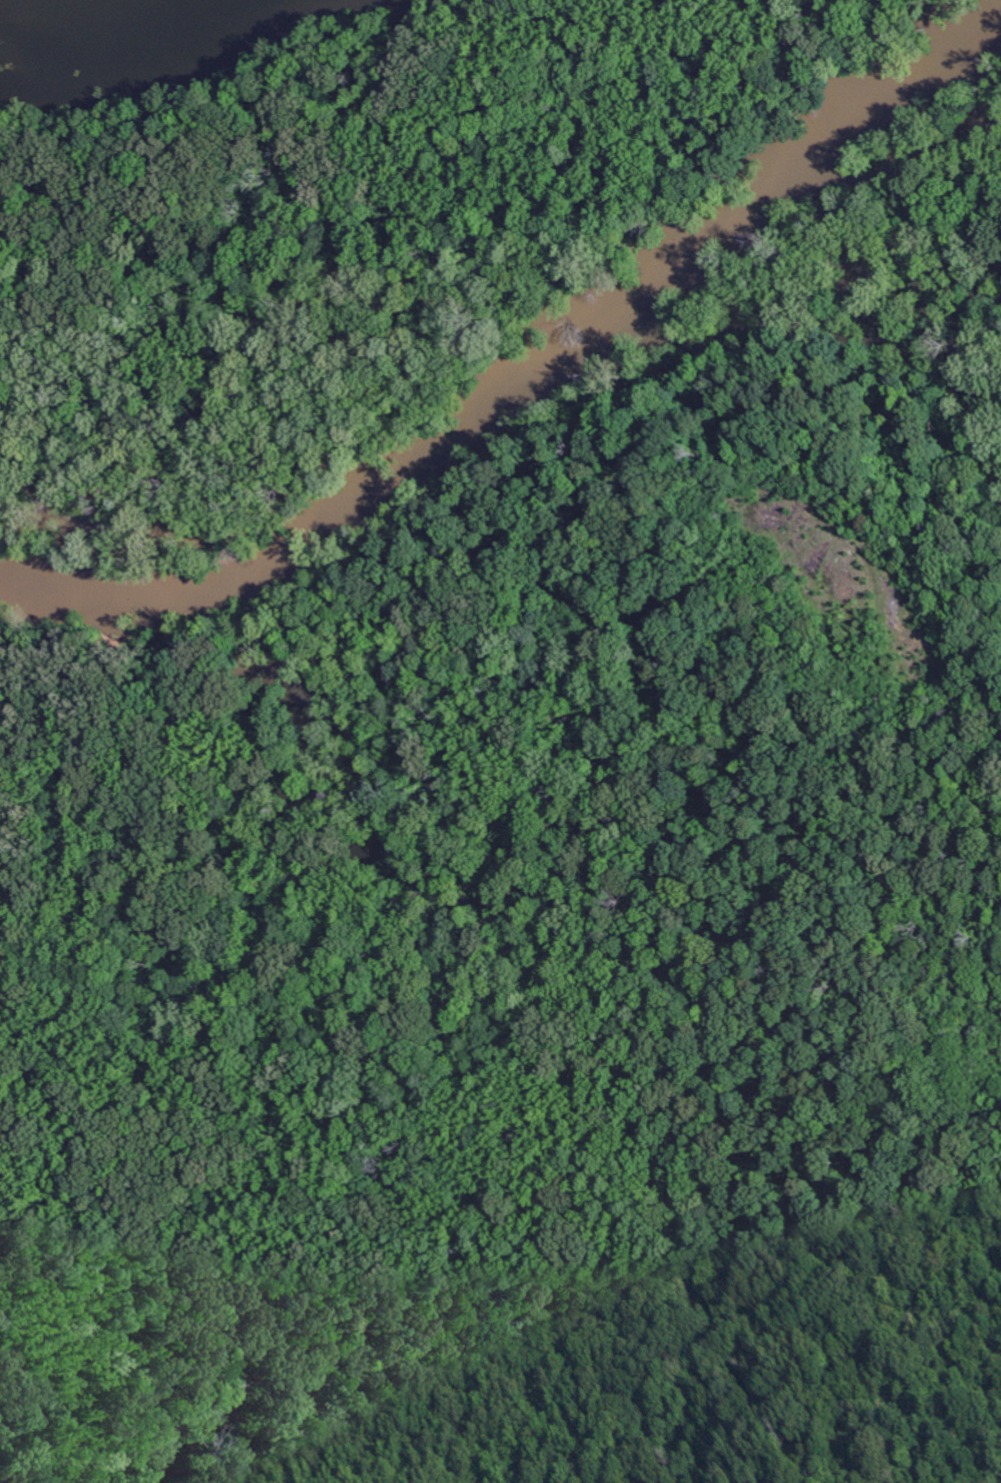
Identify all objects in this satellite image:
river: (525, 374)

